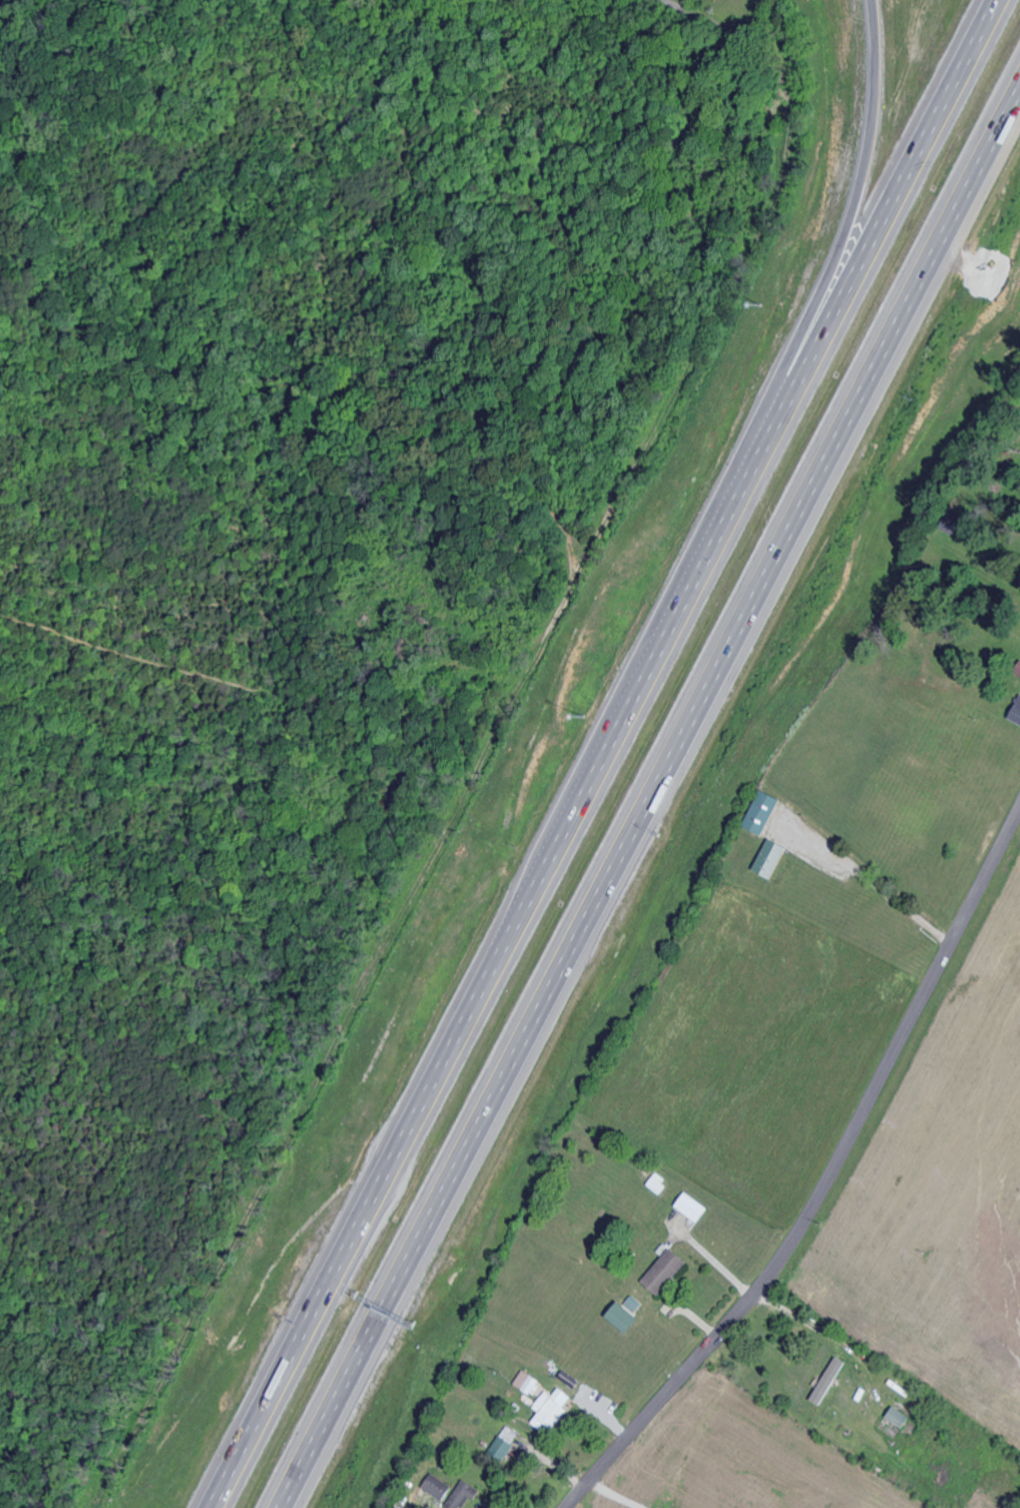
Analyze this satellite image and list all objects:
road: (720, 25)
road: (31, 44)
road: (850, 206)
road: (12, 271)
road: (305, 294)
road: (618, 396)
road: (23, 513)
road: (270, 657)
building: (1016, 711)
road: (601, 753)
road: (648, 796)
building: (765, 812)
road: (103, 813)
building: (773, 858)
road: (873, 884)
road: (145, 971)
road: (825, 1179)
road: (712, 1258)
building: (666, 1271)
building: (629, 1314)
road: (833, 1335)
building: (830, 1379)
building: (552, 1408)
building: (900, 1416)
building: (505, 1441)
building: (437, 1486)
building: (463, 1495)
road: (610, 1495)

